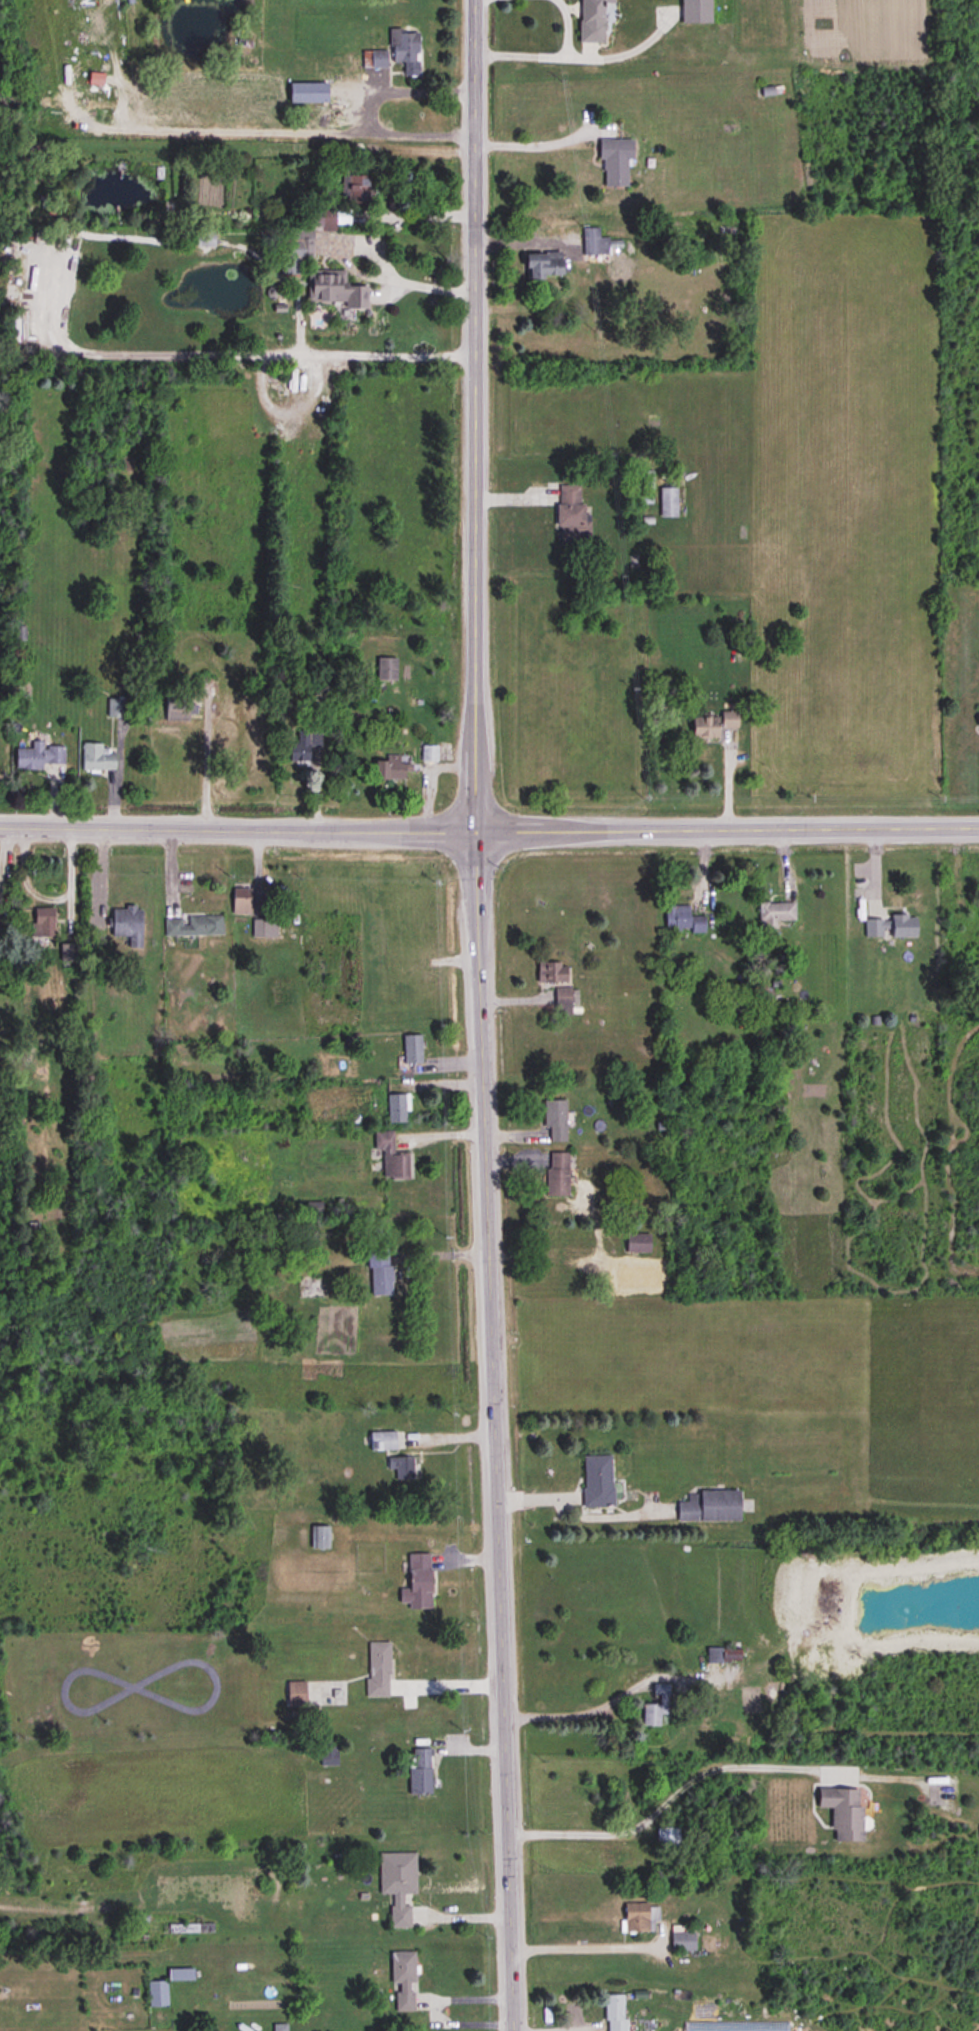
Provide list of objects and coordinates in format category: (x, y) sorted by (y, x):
building: (696, 12)
building: (591, 21)
building: (404, 49)
road: (547, 55)
building: (374, 60)
road: (403, 91)
road: (298, 130)
road: (534, 142)
building: (615, 163)
building: (356, 190)
building: (597, 243)
road: (372, 245)
building: (296, 248)
building: (542, 265)
building: (327, 289)
road: (309, 375)
building: (641, 480)
building: (668, 503)
building: (569, 515)
building: (21, 633)
building: (386, 669)
building: (117, 708)
building: (177, 708)
building: (728, 720)
building: (704, 728)
building: (304, 746)
building: (429, 753)
building: (39, 756)
building: (97, 758)
road: (205, 765)
building: (391, 768)
road: (489, 831)
building: (242, 902)
building: (775, 914)
building: (683, 921)
building: (43, 922)
building: (127, 924)
building: (194, 926)
building: (891, 927)
building: (265, 928)
building: (551, 973)
building: (562, 1002)
building: (737, 1006)
road: (480, 1015)
building: (412, 1048)
building: (397, 1107)
building: (555, 1121)
building: (391, 1157)
building: (557, 1175)
building: (314, 1208)
building: (638, 1243)
building: (381, 1280)
building: (383, 1441)
building: (403, 1467)
building: (597, 1481)
building: (710, 1506)
road: (575, 1513)
building: (320, 1537)
building: (417, 1583)
building: (723, 1655)
building: (378, 1670)
road: (447, 1684)
building: (295, 1694)
building: (657, 1706)
road: (576, 1713)
building: (328, 1754)
building: (420, 1771)
road: (666, 1799)
building: (843, 1812)
building: (668, 1837)
building: (398, 1884)
building: (640, 1918)
building: (682, 1938)
road: (581, 1947)
building: (181, 1974)
building: (403, 1980)
building: (157, 1993)
building: (615, 2013)
building: (280, 2028)

